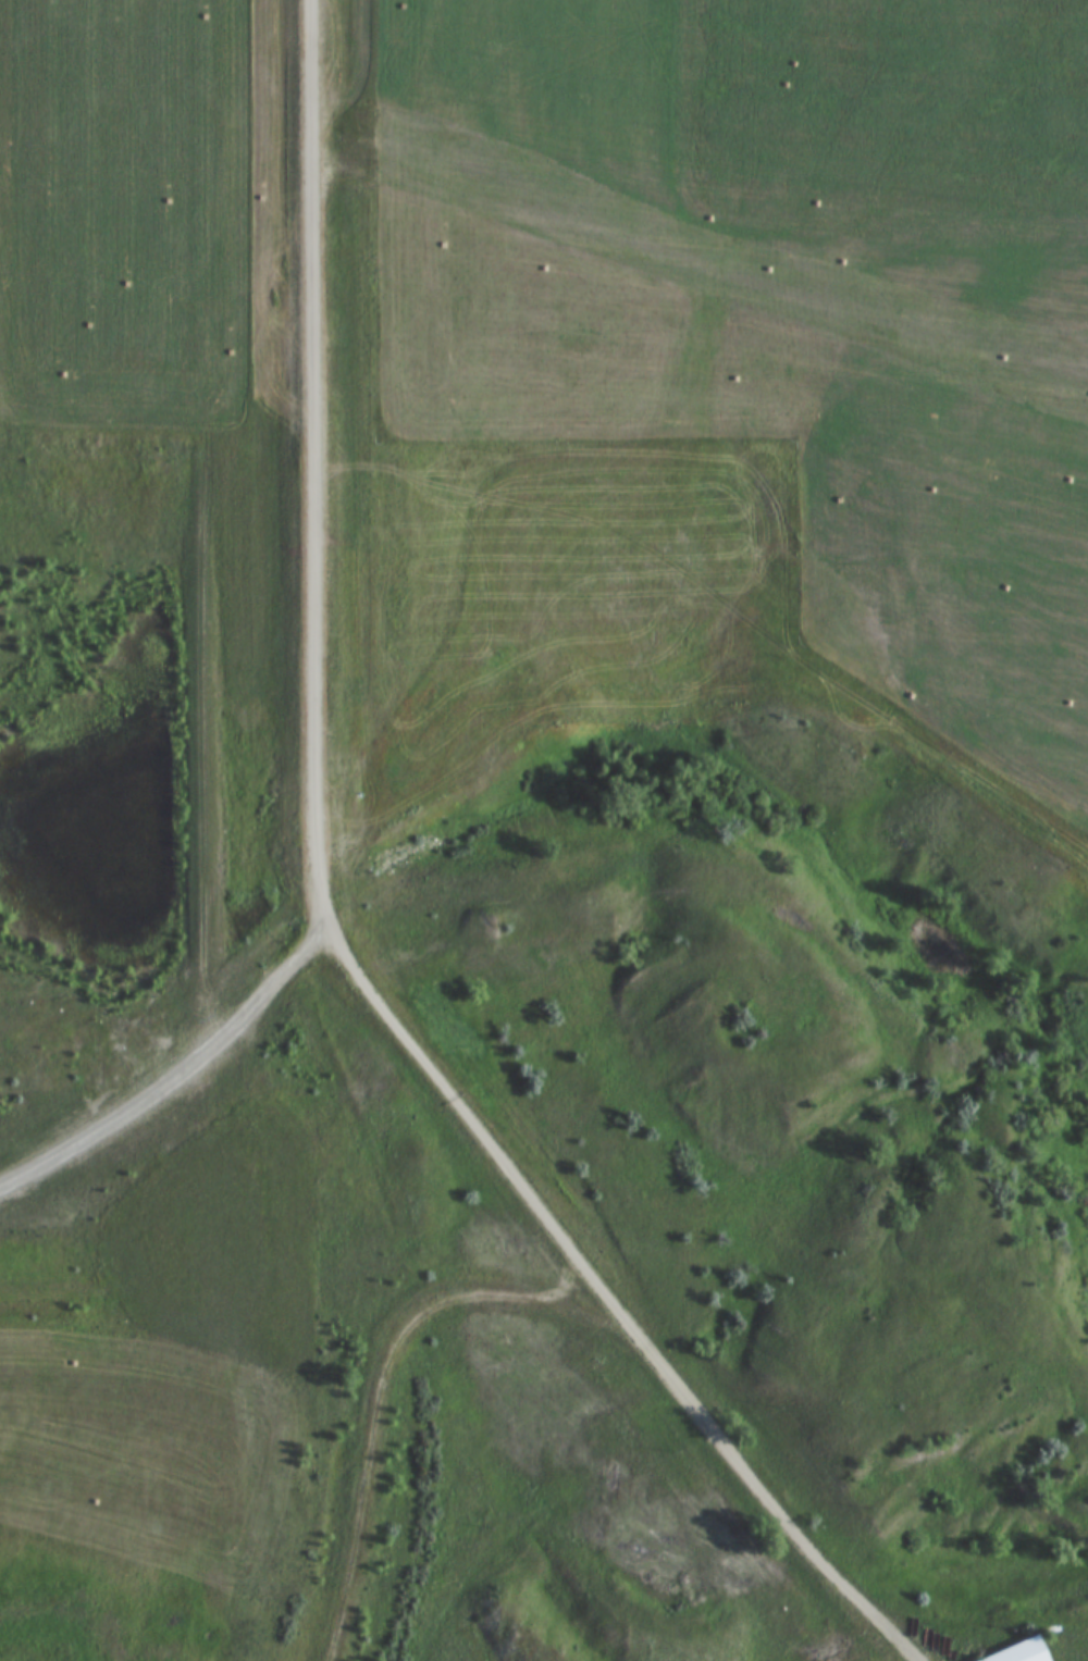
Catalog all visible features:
quarry: (428, 387)
road: (45, 1140)
road: (557, 1303)
building: (1023, 1652)

